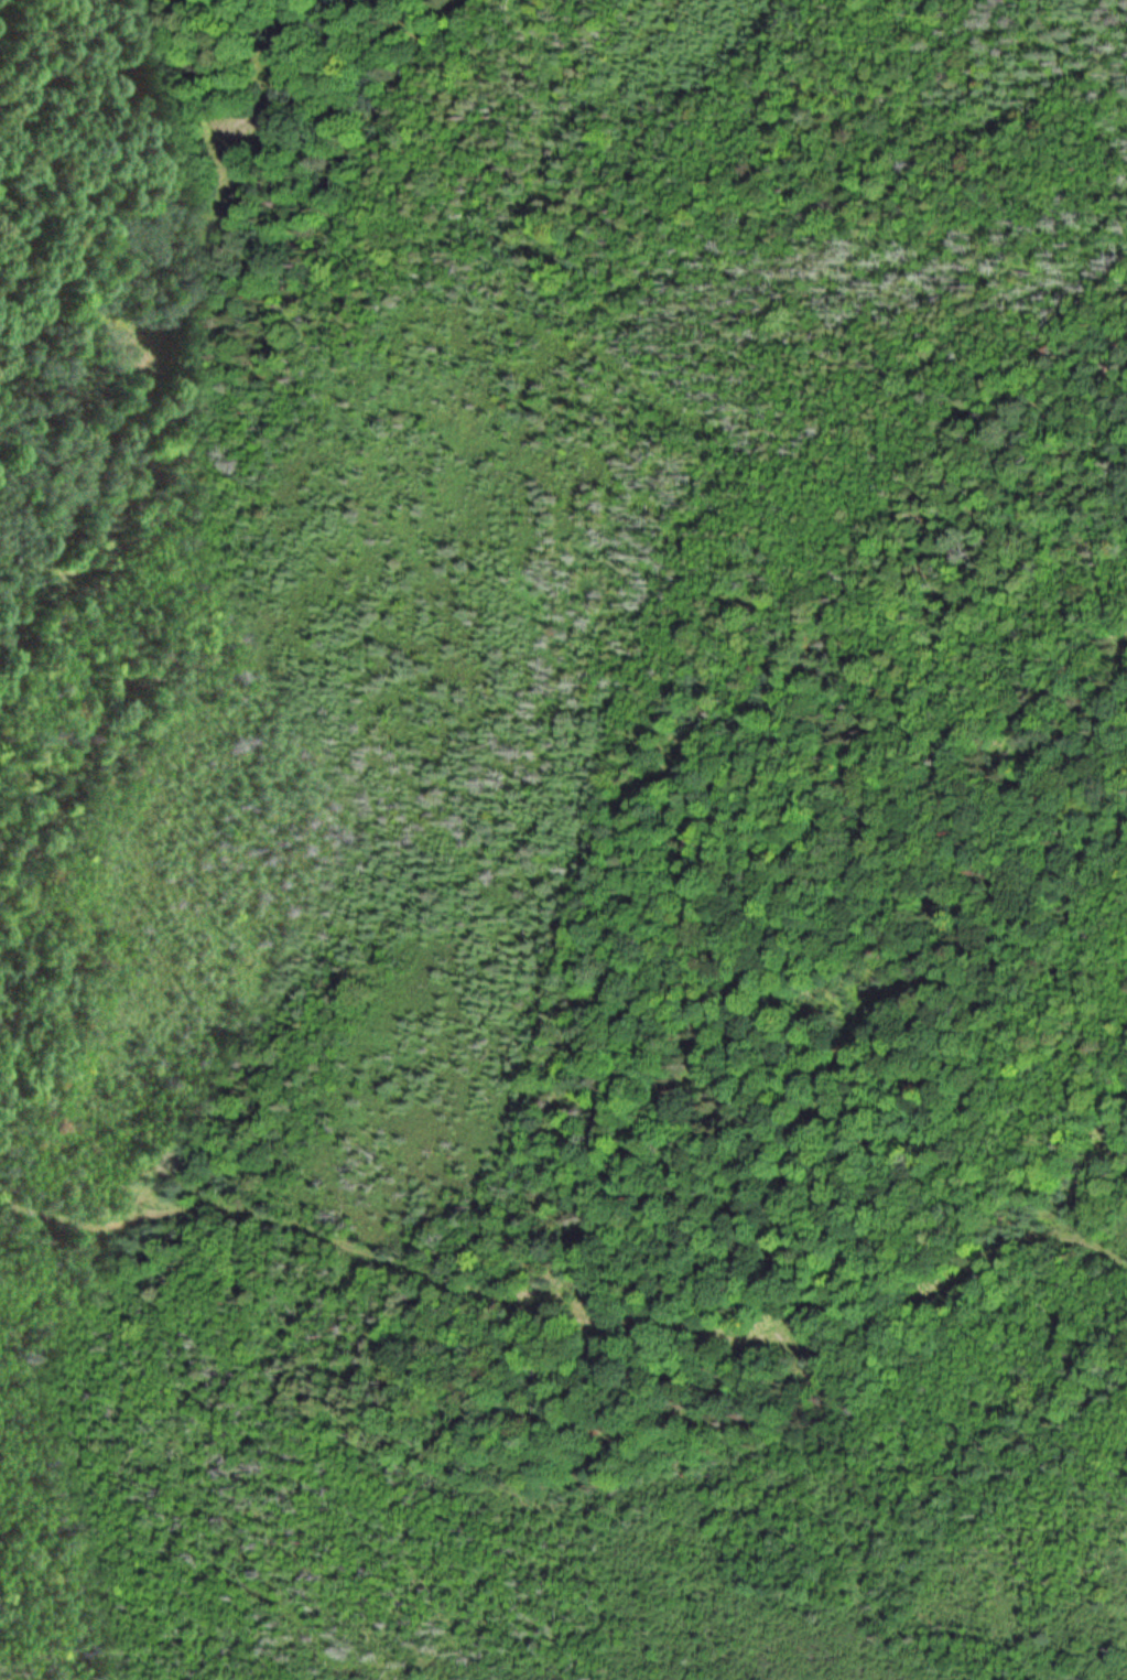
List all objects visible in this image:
road: (120, 260)
road: (563, 1278)

